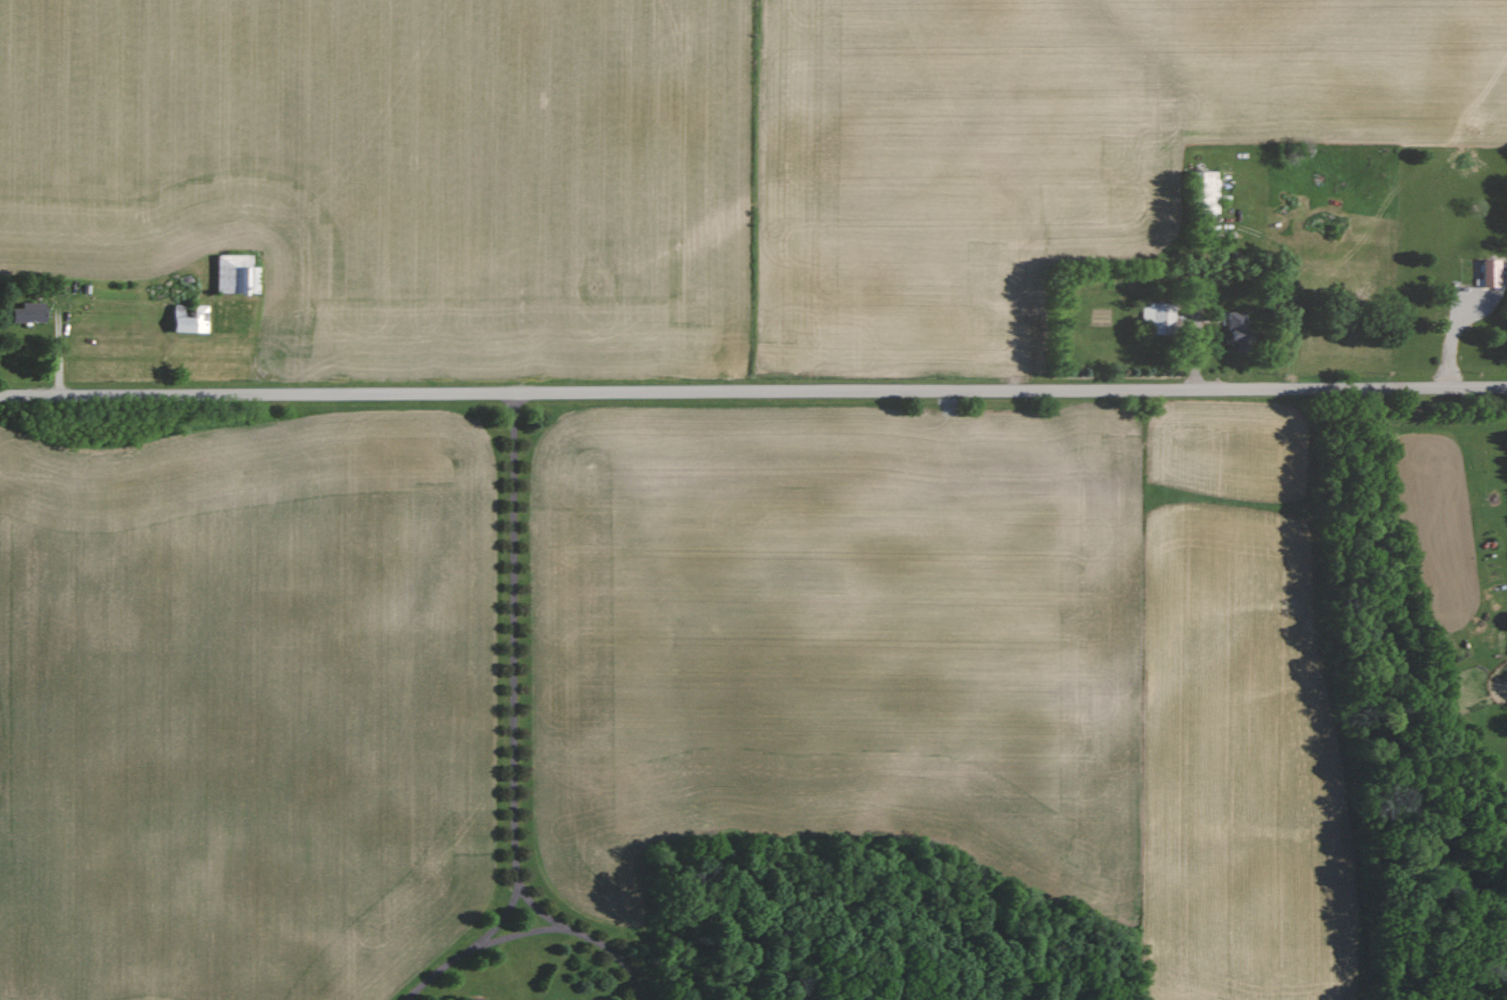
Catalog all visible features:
building: (1204, 192)
building: (1486, 273)
building: (233, 274)
building: (23, 313)
building: (1153, 316)
building: (185, 320)
building: (1234, 330)
road: (753, 391)
road: (526, 725)
road: (507, 924)
road: (481, 950)

